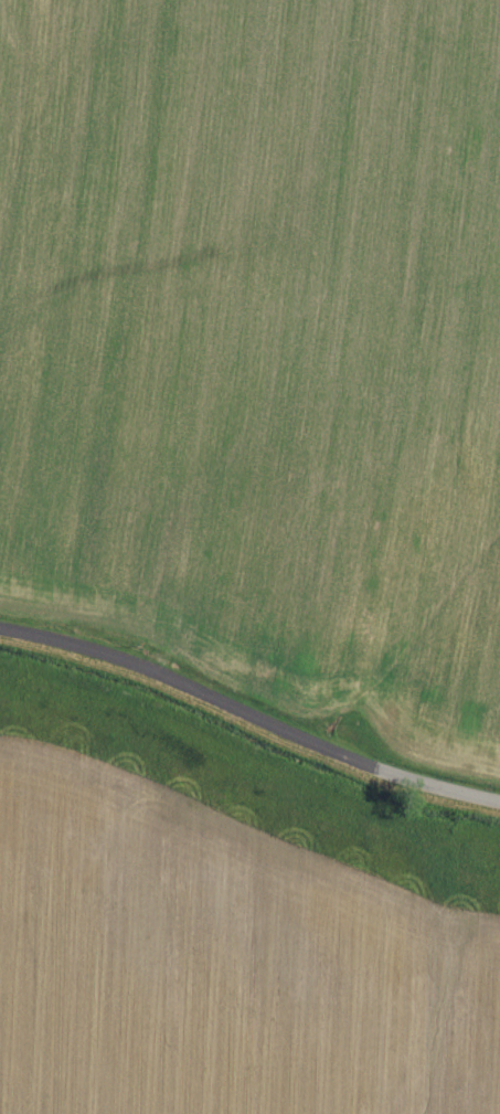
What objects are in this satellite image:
road: (248, 714)

